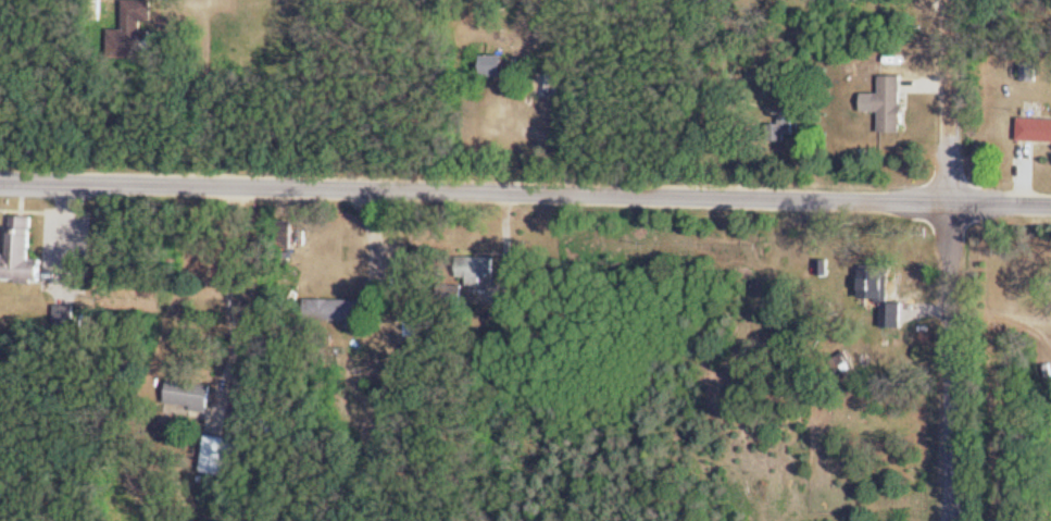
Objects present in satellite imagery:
building: (136, 33)
building: (495, 66)
building: (548, 86)
road: (209, 98)
building: (891, 106)
building: (785, 128)
building: (1036, 132)
road: (525, 194)
building: (286, 237)
building: (23, 253)
road: (948, 260)
building: (477, 269)
building: (875, 284)
road: (232, 285)
building: (338, 310)
building: (894, 315)
road: (993, 318)
road: (1044, 320)
road: (1043, 333)
building: (190, 395)
building: (224, 456)

